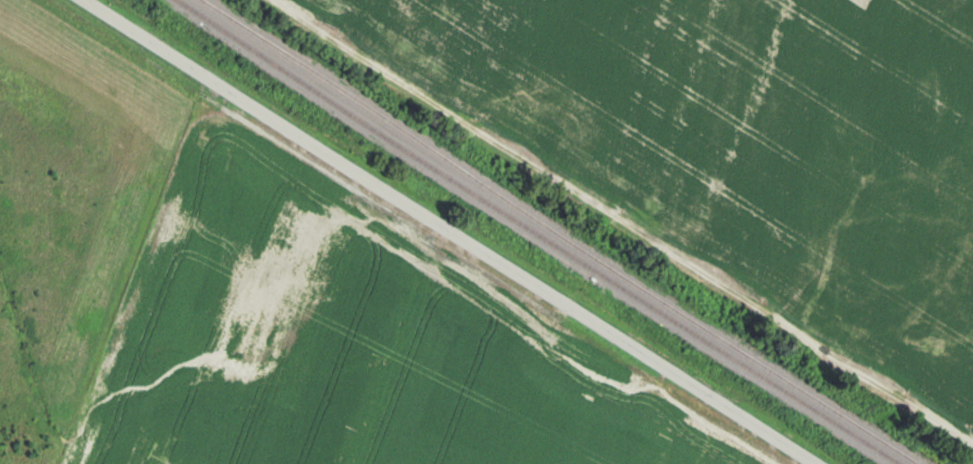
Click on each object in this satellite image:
road: (621, 220)
road: (450, 232)
railway: (536, 233)
railway: (558, 234)

